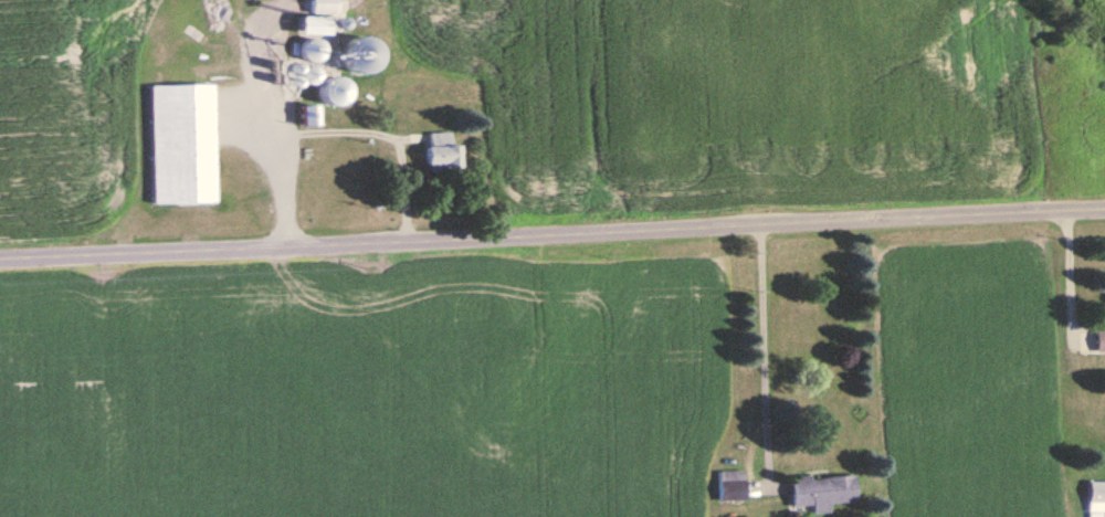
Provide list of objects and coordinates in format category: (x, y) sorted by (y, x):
building: (314, 17)
building: (356, 53)
building: (325, 89)
building: (304, 113)
building: (177, 141)
building: (436, 150)
road: (551, 232)
road: (1064, 272)
building: (1097, 338)
road: (762, 354)
building: (728, 483)
building: (818, 490)
building: (1094, 496)

